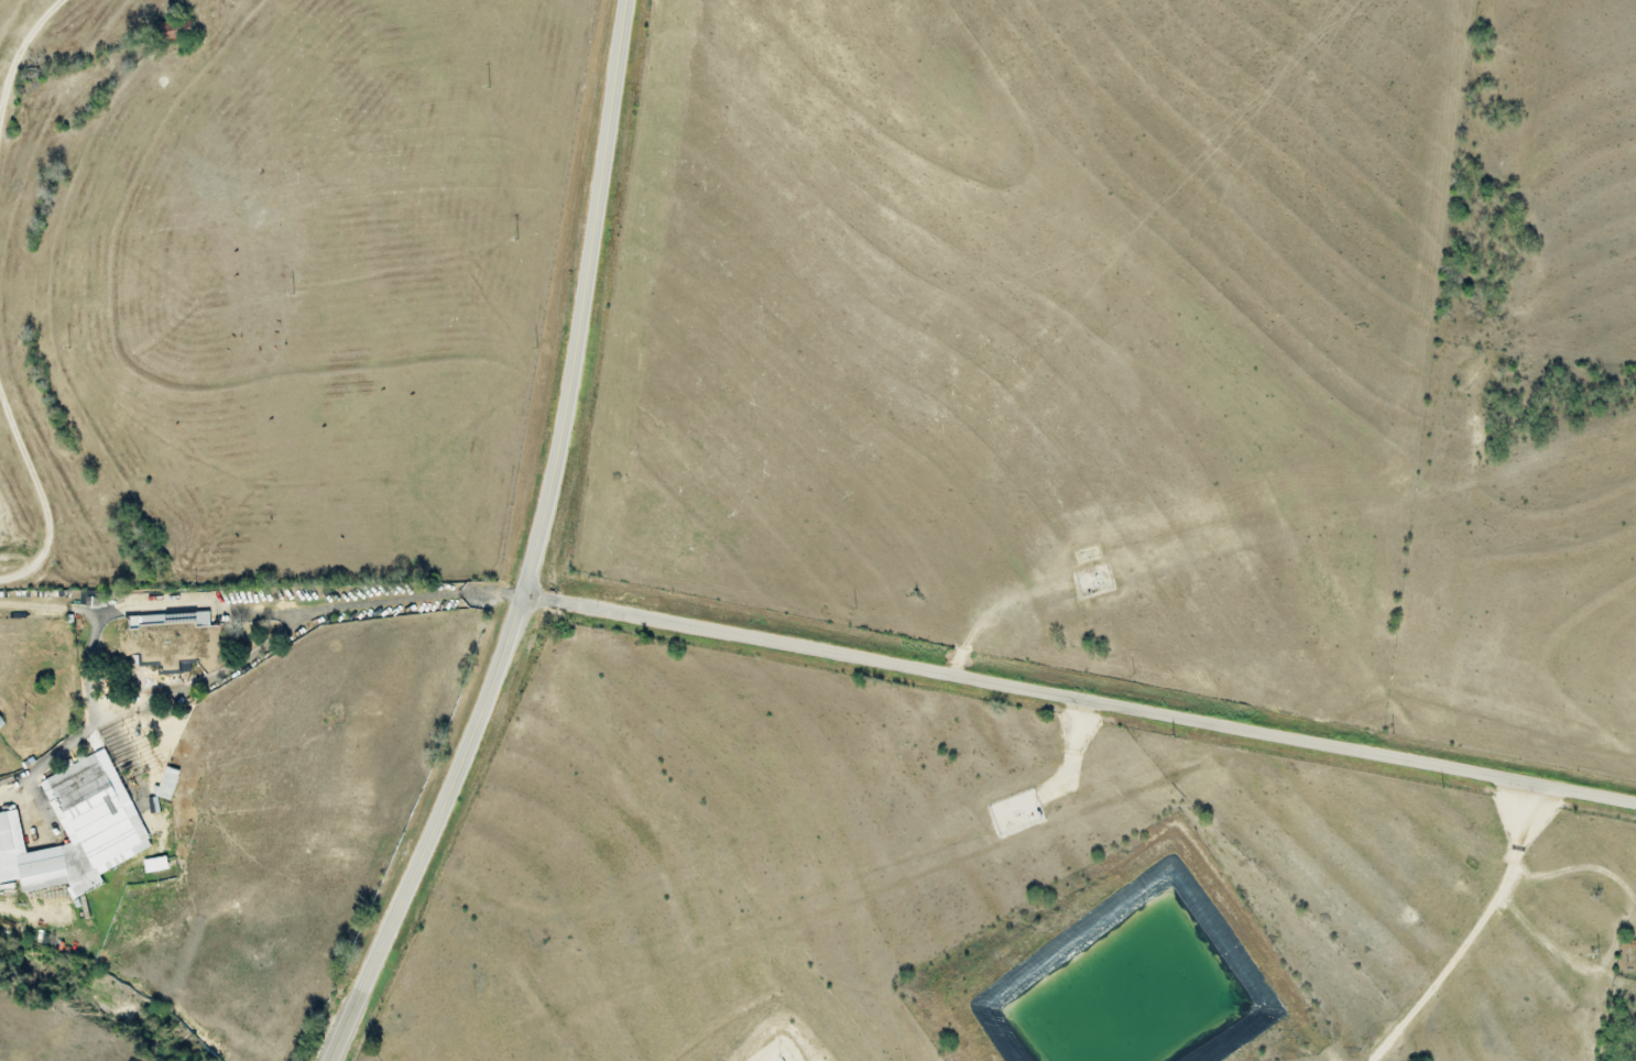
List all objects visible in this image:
road: (14, 90)
road: (42, 482)
road: (538, 547)
road: (1081, 697)
building: (1, 722)
building: (74, 829)
building: (156, 864)
road: (1477, 932)

